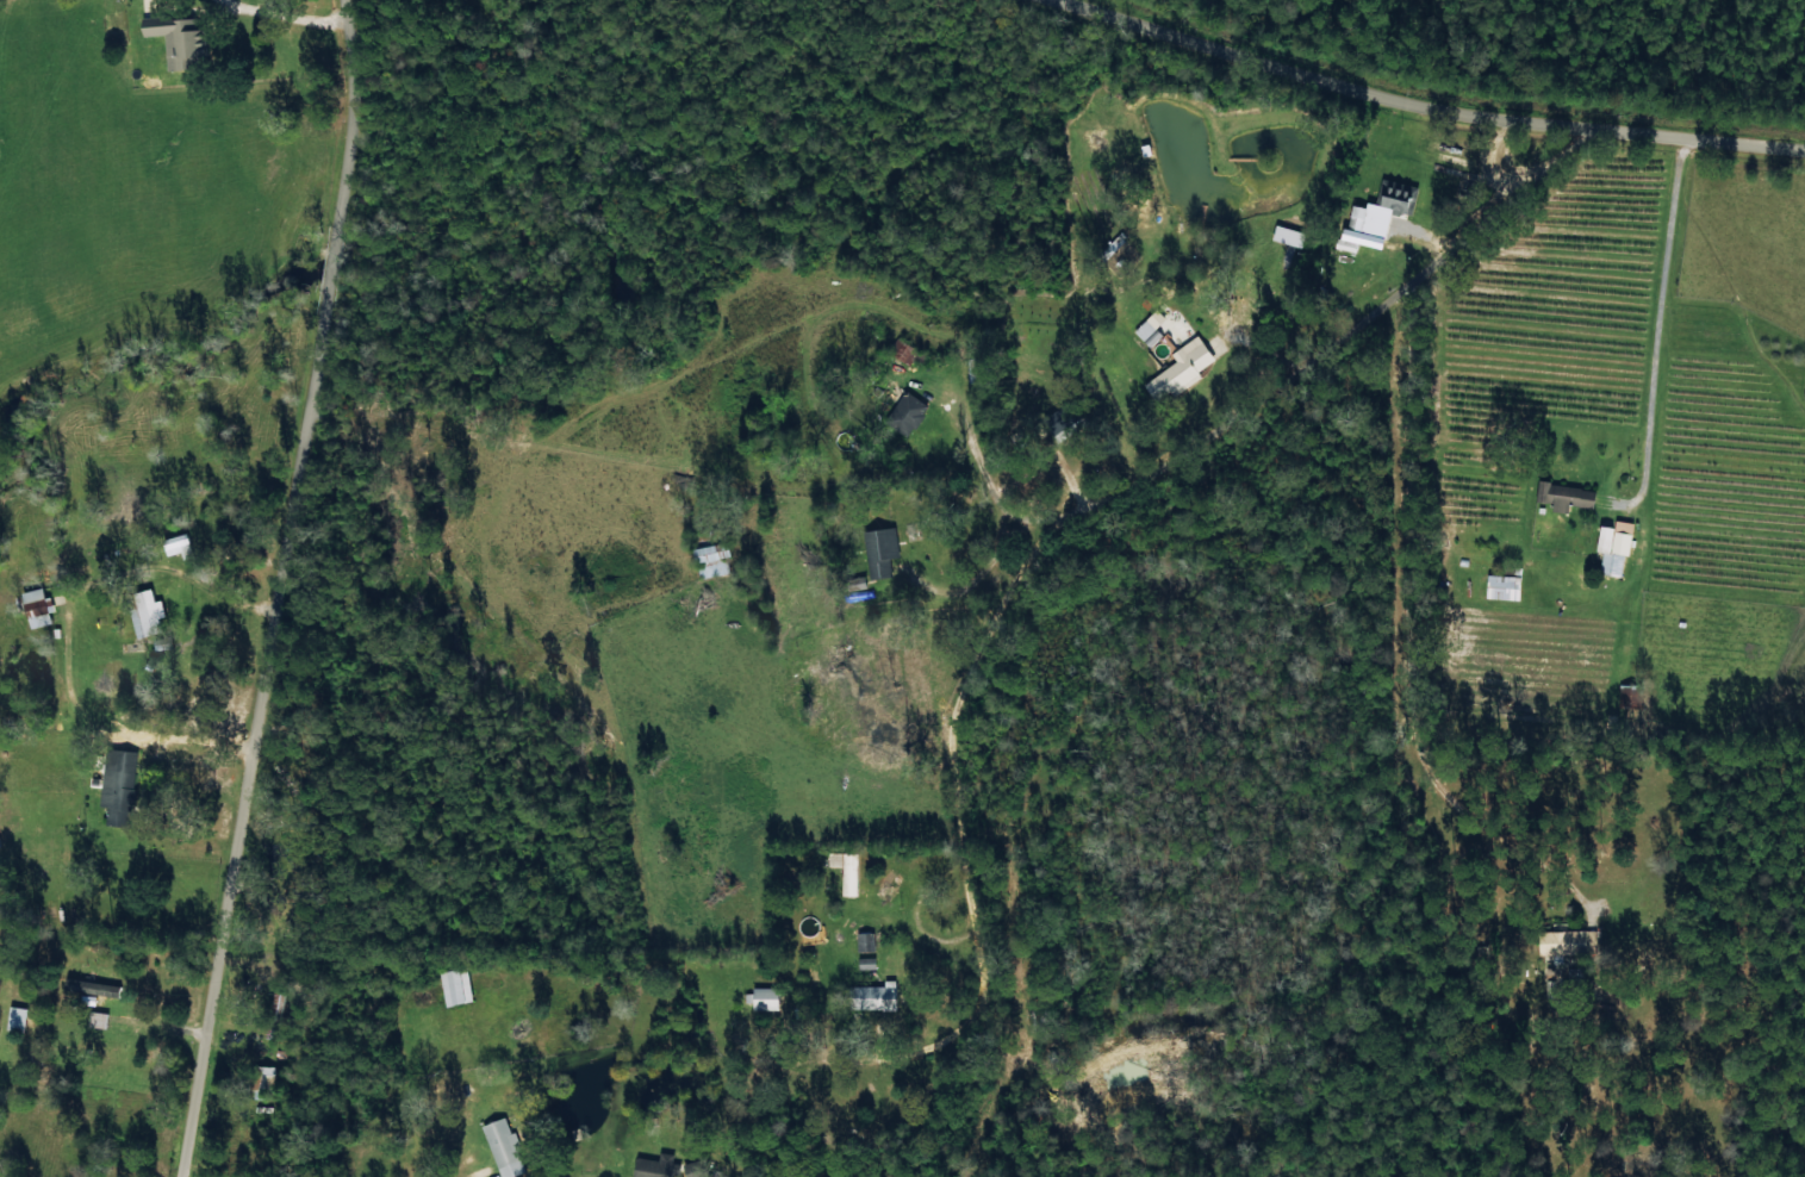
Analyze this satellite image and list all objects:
building: (180, 42)
road: (1418, 105)
building: (1288, 236)
building: (1150, 328)
road: (1283, 361)
building: (1180, 369)
building: (905, 417)
building: (1563, 494)
road: (1588, 530)
building: (175, 543)
building: (1613, 546)
building: (879, 549)
building: (712, 559)
building: (1502, 586)
road: (280, 590)
building: (37, 606)
building: (145, 612)
building: (118, 785)
building: (846, 870)
building: (864, 941)
building: (866, 963)
building: (454, 985)
building: (92, 986)
building: (872, 996)
building: (761, 998)
building: (15, 1017)
building: (97, 1019)
road: (900, 1023)
building: (264, 1081)
building: (503, 1147)
building: (654, 1166)

